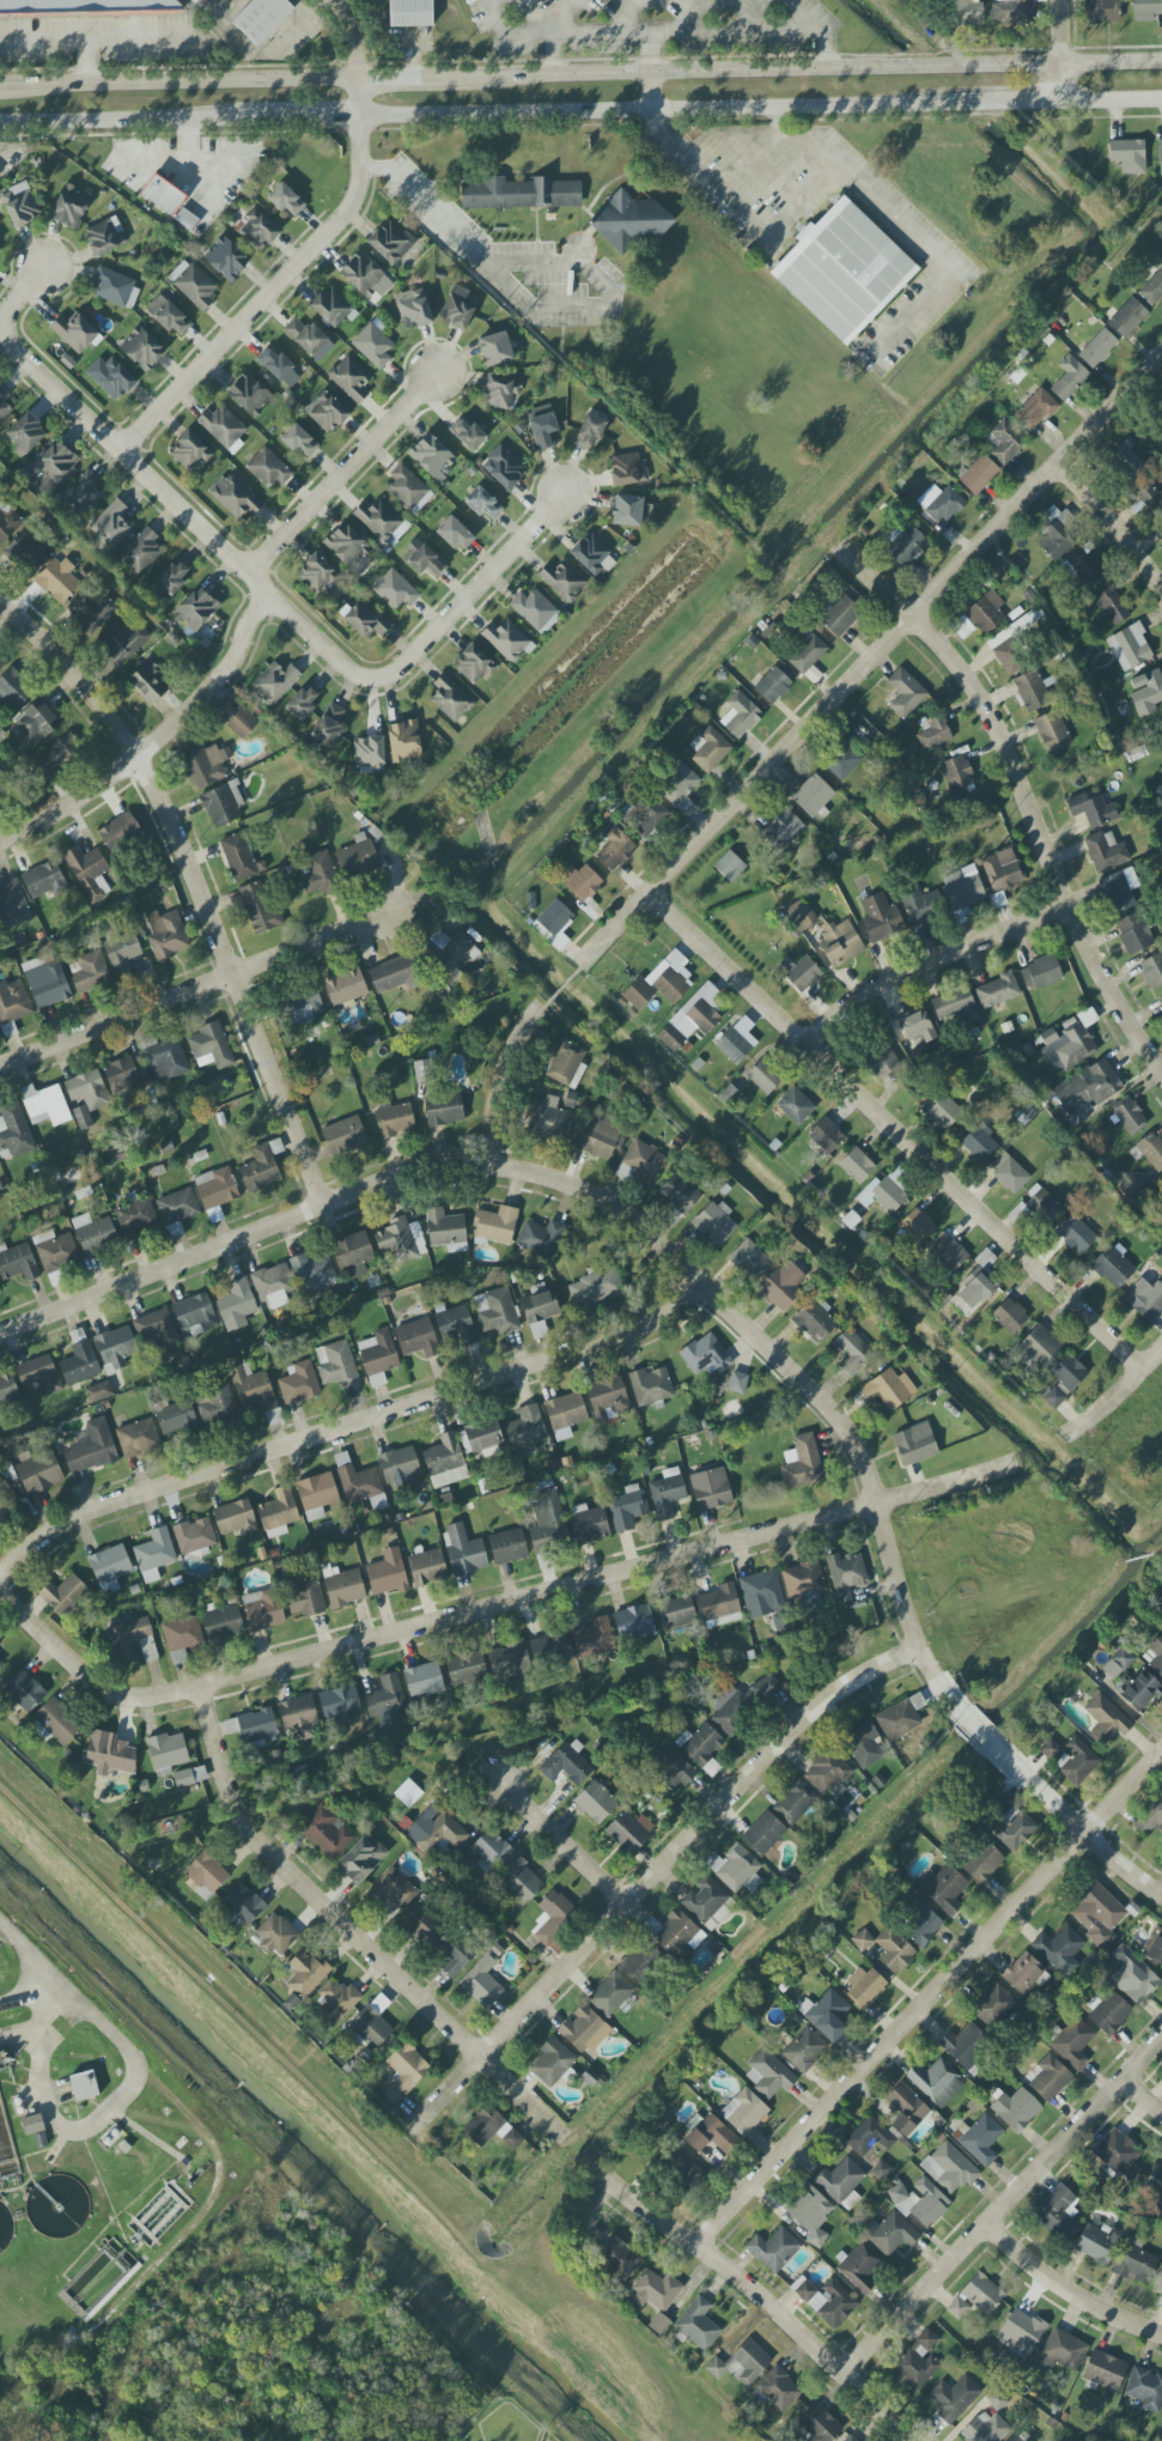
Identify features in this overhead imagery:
building: (1076, 0)
building: (191, 1)
building: (86, 6)
building: (1145, 10)
building: (1100, 11)
building: (1011, 12)
building: (410, 13)
building: (966, 13)
road: (541, 14)
building: (261, 18)
road: (627, 18)
road: (692, 18)
road: (822, 30)
road: (558, 34)
road: (95, 35)
road: (644, 36)
road: (355, 38)
road: (1064, 51)
road: (655, 56)
road: (89, 62)
road: (813, 73)
road: (413, 83)
road: (181, 87)
road: (655, 95)
road: (364, 102)
road: (1113, 103)
road: (1005, 105)
road: (655, 111)
road: (324, 120)
road: (141, 122)
road: (367, 141)
road: (188, 147)
building: (1127, 156)
building: (1161, 156)
road: (705, 175)
road: (815, 184)
road: (781, 186)
building: (519, 193)
building: (163, 195)
building: (286, 200)
building: (20, 205)
road: (426, 206)
building: (69, 207)
building: (185, 219)
building: (627, 220)
road: (899, 229)
building: (257, 231)
building: (105, 237)
building: (390, 243)
building: (225, 259)
building: (844, 273)
building: (366, 277)
parking lot: (550, 280)
building: (193, 285)
building: (116, 289)
building: (1152, 289)
road: (617, 304)
building: (458, 308)
building: (331, 309)
building: (413, 309)
road: (251, 314)
building: (169, 316)
building: (1127, 317)
building: (74, 332)
building: (309, 339)
building: (372, 345)
building: (141, 348)
building: (495, 348)
building: (1097, 348)
building: (279, 368)
building: (111, 378)
building: (349, 378)
building: (1069, 378)
building: (499, 391)
building: (249, 394)
building: (4, 405)
building: (1035, 409)
building: (327, 412)
building: (542, 427)
building: (25, 433)
building: (589, 433)
building: (467, 435)
building: (1004, 441)
building: (299, 442)
building: (189, 451)
building: (432, 457)
building: (1127, 460)
building: (53, 466)
building: (504, 467)
building: (268, 469)
building: (626, 470)
building: (978, 474)
road: (346, 476)
road: (157, 487)
building: (408, 490)
building: (81, 493)
building: (235, 497)
building: (1151, 497)
building: (482, 503)
building: (627, 510)
building: (382, 521)
building: (7, 523)
building: (110, 523)
road: (1113, 523)
building: (455, 534)
building: (1054, 541)
building: (905, 545)
building: (348, 549)
building: (26, 552)
building: (140, 552)
building: (592, 555)
building: (422, 558)
building: (1082, 567)
building: (317, 573)
building: (174, 576)
building: (56, 581)
building: (562, 581)
building: (394, 589)
road: (474, 591)
building: (1112, 606)
building: (91, 609)
building: (195, 609)
building: (535, 611)
building: (839, 618)
building: (366, 619)
building: (123, 640)
building: (507, 640)
building: (1012, 642)
building: (1130, 646)
building: (805, 652)
road: (871, 661)
building: (1, 662)
building: (474, 664)
building: (147, 684)
building: (273, 684)
building: (773, 685)
building: (13, 690)
building: (1030, 691)
building: (1146, 692)
building: (905, 693)
building: (450, 698)
building: (303, 702)
building: (740, 715)
building: (36, 721)
building: (242, 723)
building: (328, 727)
building: (1052, 731)
building: (933, 733)
road: (153, 739)
building: (403, 741)
building: (708, 748)
building: (369, 754)
building: (53, 759)
building: (844, 763)
building: (206, 765)
building: (956, 772)
building: (676, 789)
road: (1021, 791)
building: (813, 795)
building: (219, 807)
building: (1090, 808)
building: (645, 816)
building: (781, 831)
building: (118, 832)
building: (614, 849)
building: (1106, 851)
building: (237, 857)
building: (358, 860)
building: (729, 866)
building: (86, 870)
building: (1002, 870)
building: (318, 873)
building: (44, 881)
road: (194, 881)
building: (582, 881)
building: (962, 888)
building: (1117, 892)
building: (12, 905)
building: (921, 906)
building: (258, 907)
building: (880, 918)
building: (553, 924)
building: (1133, 933)
building: (166, 935)
building: (840, 943)
building: (449, 951)
building: (122, 952)
road: (929, 960)
building: (89, 971)
building: (1151, 971)
road: (574, 972)
building: (799, 973)
building: (1040, 973)
building: (394, 974)
building: (670, 977)
building: (45, 980)
building: (345, 986)
road: (196, 989)
road: (560, 989)
building: (998, 990)
building: (637, 995)
building: (1160, 1000)
building: (13, 1002)
road: (546, 1004)
building: (955, 1006)
building: (299, 1007)
building: (692, 1019)
building: (914, 1028)
building: (737, 1042)
building: (1067, 1044)
building: (211, 1046)
building: (880, 1057)
building: (166, 1061)
building: (566, 1064)
building: (121, 1073)
building: (763, 1076)
road: (499, 1081)
building: (1087, 1089)
building: (86, 1095)
building: (45, 1105)
building: (795, 1106)
building: (443, 1110)
building: (943, 1111)
building: (1128, 1115)
building: (548, 1119)
building: (395, 1122)
building: (14, 1131)
road: (898, 1131)
building: (826, 1135)
building: (345, 1136)
building: (598, 1138)
building: (979, 1143)
building: (1151, 1149)
building: (261, 1166)
building: (857, 1166)
building: (1009, 1172)
building: (215, 1191)
building: (679, 1194)
building: (884, 1195)
building: (1042, 1204)
building: (177, 1207)
building: (135, 1219)
building: (714, 1223)
building: (495, 1225)
building: (917, 1226)
building: (445, 1229)
building: (96, 1234)
building: (1076, 1235)
building: (540, 1238)
building: (401, 1239)
building: (55, 1250)
building: (947, 1252)
building: (353, 1253)
building: (749, 1259)
building: (18, 1263)
building: (1112, 1267)
road: (162, 1268)
building: (314, 1274)
building: (783, 1283)
building: (273, 1285)
building: (595, 1287)
building: (974, 1291)
building: (0, 1292)
building: (1145, 1295)
building: (525, 1303)
building: (236, 1305)
building: (541, 1308)
building: (495, 1311)
building: (195, 1313)
building: (1009, 1314)
building: (814, 1322)
building: (456, 1325)
building: (158, 1329)
building: (418, 1338)
building: (115, 1348)
building: (1040, 1348)
building: (852, 1353)
building: (705, 1355)
building: (378, 1356)
building: (336, 1364)
building: (39, 1374)
road: (797, 1376)
building: (1064, 1380)
building: (298, 1383)
building: (737, 1383)
building: (650, 1385)
building: (7, 1389)
building: (253, 1389)
building: (889, 1389)
building: (98, 1392)
road: (1115, 1397)
building: (608, 1398)
building: (217, 1403)
building: (565, 1415)
building: (176, 1417)
road: (347, 1426)
building: (525, 1431)
building: (138, 1438)
building: (482, 1439)
building: (914, 1444)
building: (91, 1447)
building: (445, 1462)
building: (802, 1462)
building: (399, 1464)
building: (38, 1473)
building: (359, 1483)
building: (711, 1489)
building: (667, 1494)
building: (316, 1495)
building: (378, 1505)
building: (627, 1508)
building: (2, 1511)
building: (278, 1513)
building: (235, 1518)
building: (546, 1522)
building: (588, 1524)
building: (194, 1536)
building: (507, 1547)
building: (156, 1550)
building: (463, 1550)
building: (109, 1566)
building: (427, 1568)
building: (387, 1573)
road: (613, 1574)
building: (846, 1575)
building: (802, 1579)
building: (761, 1593)
building: (65, 1595)
building: (720, 1605)
building: (262, 1609)
building: (676, 1611)
building: (223, 1622)
building: (634, 1623)
building: (182, 1638)
building: (594, 1638)
building: (133, 1641)
building: (550, 1650)
building: (1154, 1656)
building: (509, 1660)
building: (0, 1663)
building: (1118, 1663)
building: (466, 1669)
road: (87, 1675)
building: (424, 1683)
building: (24, 1690)
building: (1142, 1693)
building: (385, 1698)
building: (741, 1704)
building: (340, 1705)
building: (298, 1716)
building: (1106, 1719)
building: (898, 1720)
building: (55, 1724)
building: (253, 1727)
building: (700, 1744)
building: (863, 1744)
building: (1050, 1749)
building: (166, 1753)
building: (109, 1754)
building: (1076, 1761)
building: (566, 1765)
building: (671, 1769)
building: (828, 1773)
building: (189, 1777)
building: (408, 1793)
building: (595, 1802)
building: (793, 1802)
building: (998, 1803)
building: (1152, 1820)
building: (1012, 1828)
building: (629, 1830)
building: (326, 1832)
building: (436, 1833)
building: (763, 1834)
road: (564, 1841)
building: (491, 1852)
building: (361, 1859)
building: (981, 1863)
road: (1123, 1864)
building: (734, 1868)
building: (206, 1875)
road: (655, 1875)
building: (519, 1882)
building: (391, 1889)
building: (943, 1889)
building: (706, 1902)
building: (244, 1905)
building: (1097, 1915)
building: (553, 1918)
building: (919, 1921)
building: (420, 1923)
road: (351, 1927)
building: (276, 1933)
building: (675, 1935)
building: (862, 1941)
building: (1059, 1949)
building: (1155, 1949)
building: (893, 1950)
building: (454, 1953)
building: (647, 1961)
building: (305, 1973)
building: (1023, 1973)
building: (1132, 1977)
building: (482, 1981)
building: (865, 1987)
building: (610, 1994)
road: (34, 1997)
road: (929, 1997)
building: (336, 2000)
building: (993, 2005)
building: (1108, 2012)
building: (826, 2015)
building: (372, 2023)
road: (111, 2027)
building: (584, 2029)
road: (49, 2034)
building: (1072, 2044)
building: (966, 2045)
building: (804, 2050)
building: (552, 2062)
building: (407, 2067)
road: (48, 2073)
building: (768, 2075)
building: (1047, 2077)
building: (937, 2082)
building: (84, 2085)
road: (1145, 2090)
building: (906, 2109)
building: (1015, 2109)
building: (743, 2112)
building: (32, 2124)
building: (491, 2129)
building: (711, 2135)
building: (869, 2137)
building: (979, 2138)
building: (1115, 2151)
wastewater plant: (92, 2157)
building: (685, 2167)
building: (949, 2168)
building: (881, 2170)
building: (839, 2180)
building: (1155, 2181)
building: (919, 2202)
road: (1005, 2205)
building: (1055, 2211)
building: (809, 2215)
building: (890, 2234)
building: (1096, 2242)
building: (773, 2249)
building: (617, 2258)
building: (1136, 2261)
building: (858, 2267)
building: (1158, 2283)
building: (656, 2290)
building: (982, 2293)
road: (1065, 2296)
building: (826, 2300)
road: (763, 2302)
building: (956, 2308)
building: (698, 2325)
building: (1022, 2331)
building: (1063, 2350)
building: (742, 2362)
building: (917, 2362)
building: (1103, 2370)
building: (778, 2390)
building: (1145, 2390)
building: (953, 2398)
building: (819, 2424)
building: (986, 2428)
building: (846, 2437)
building: (1015, 2439)

